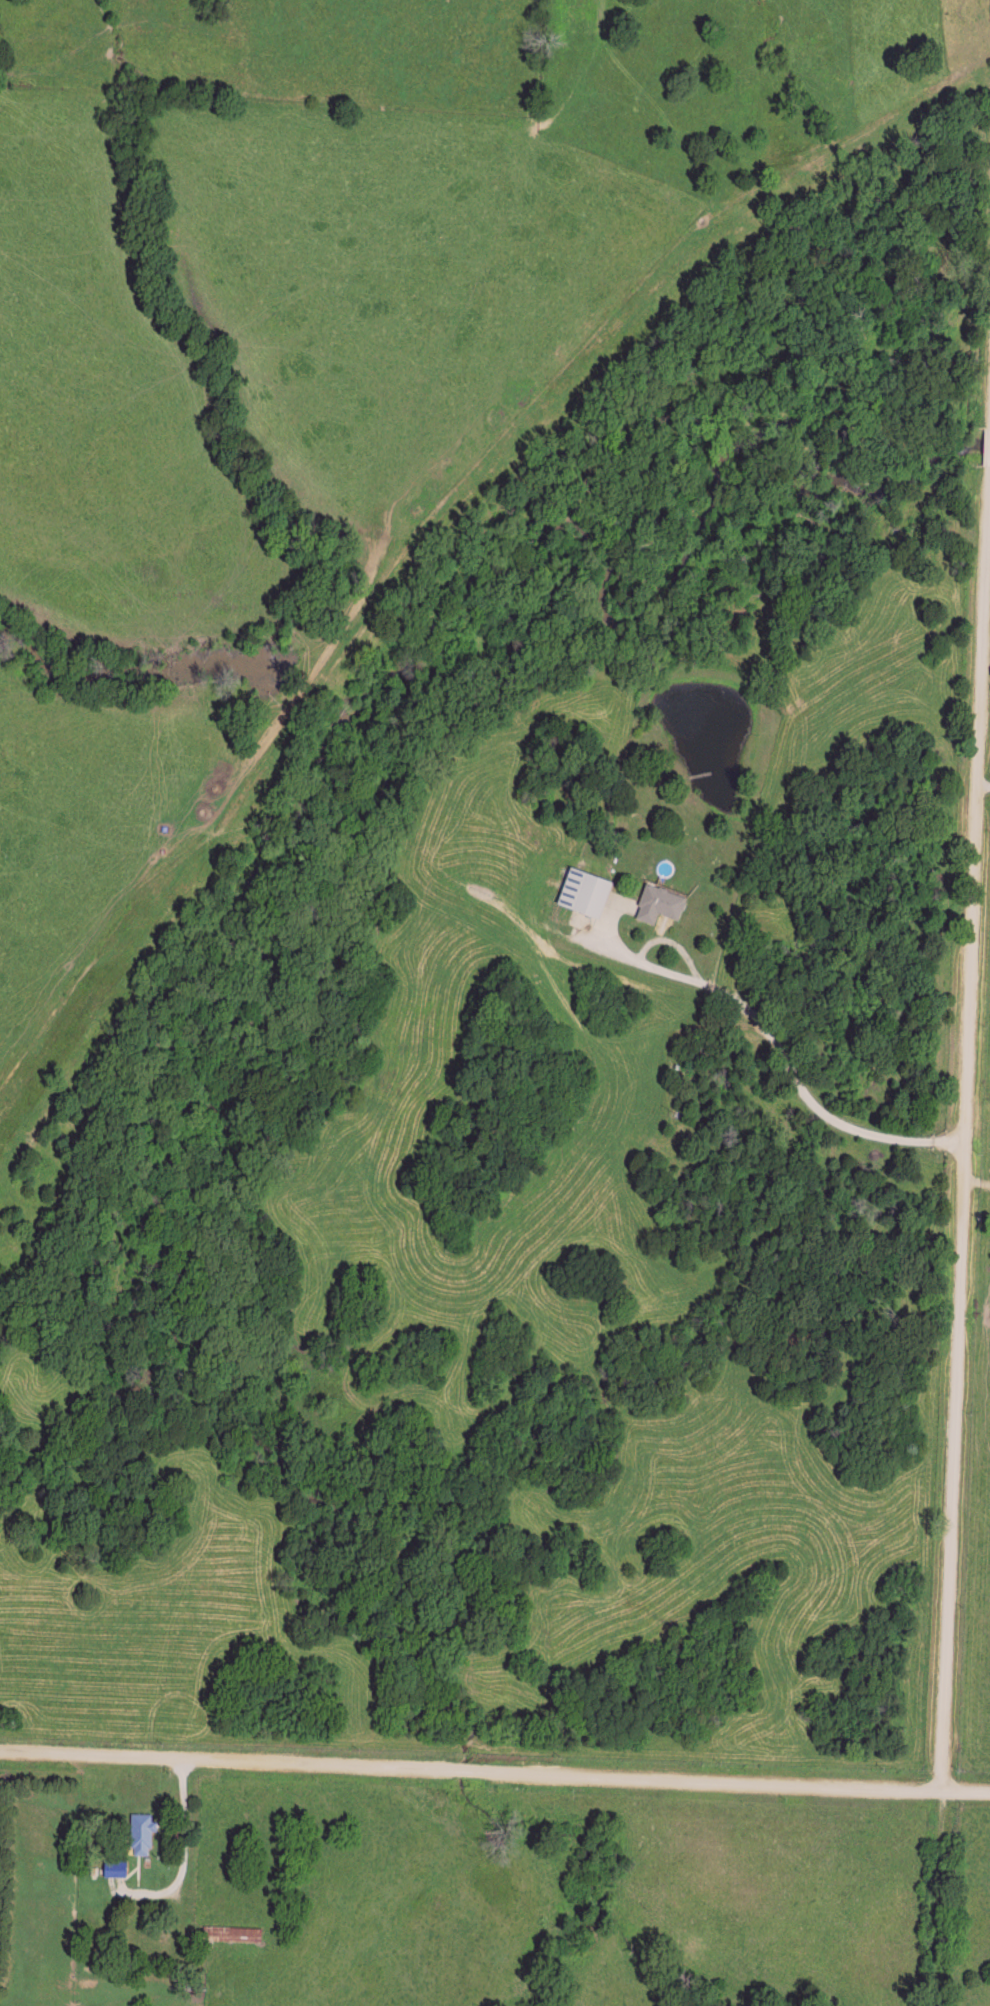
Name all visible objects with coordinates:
road: (985, 790)
building: (582, 890)
building: (658, 902)
road: (659, 972)
road: (811, 1104)
road: (965, 1155)
road: (494, 1775)
building: (141, 1831)
road: (182, 1856)
road: (940, 1899)
building: (234, 1931)

